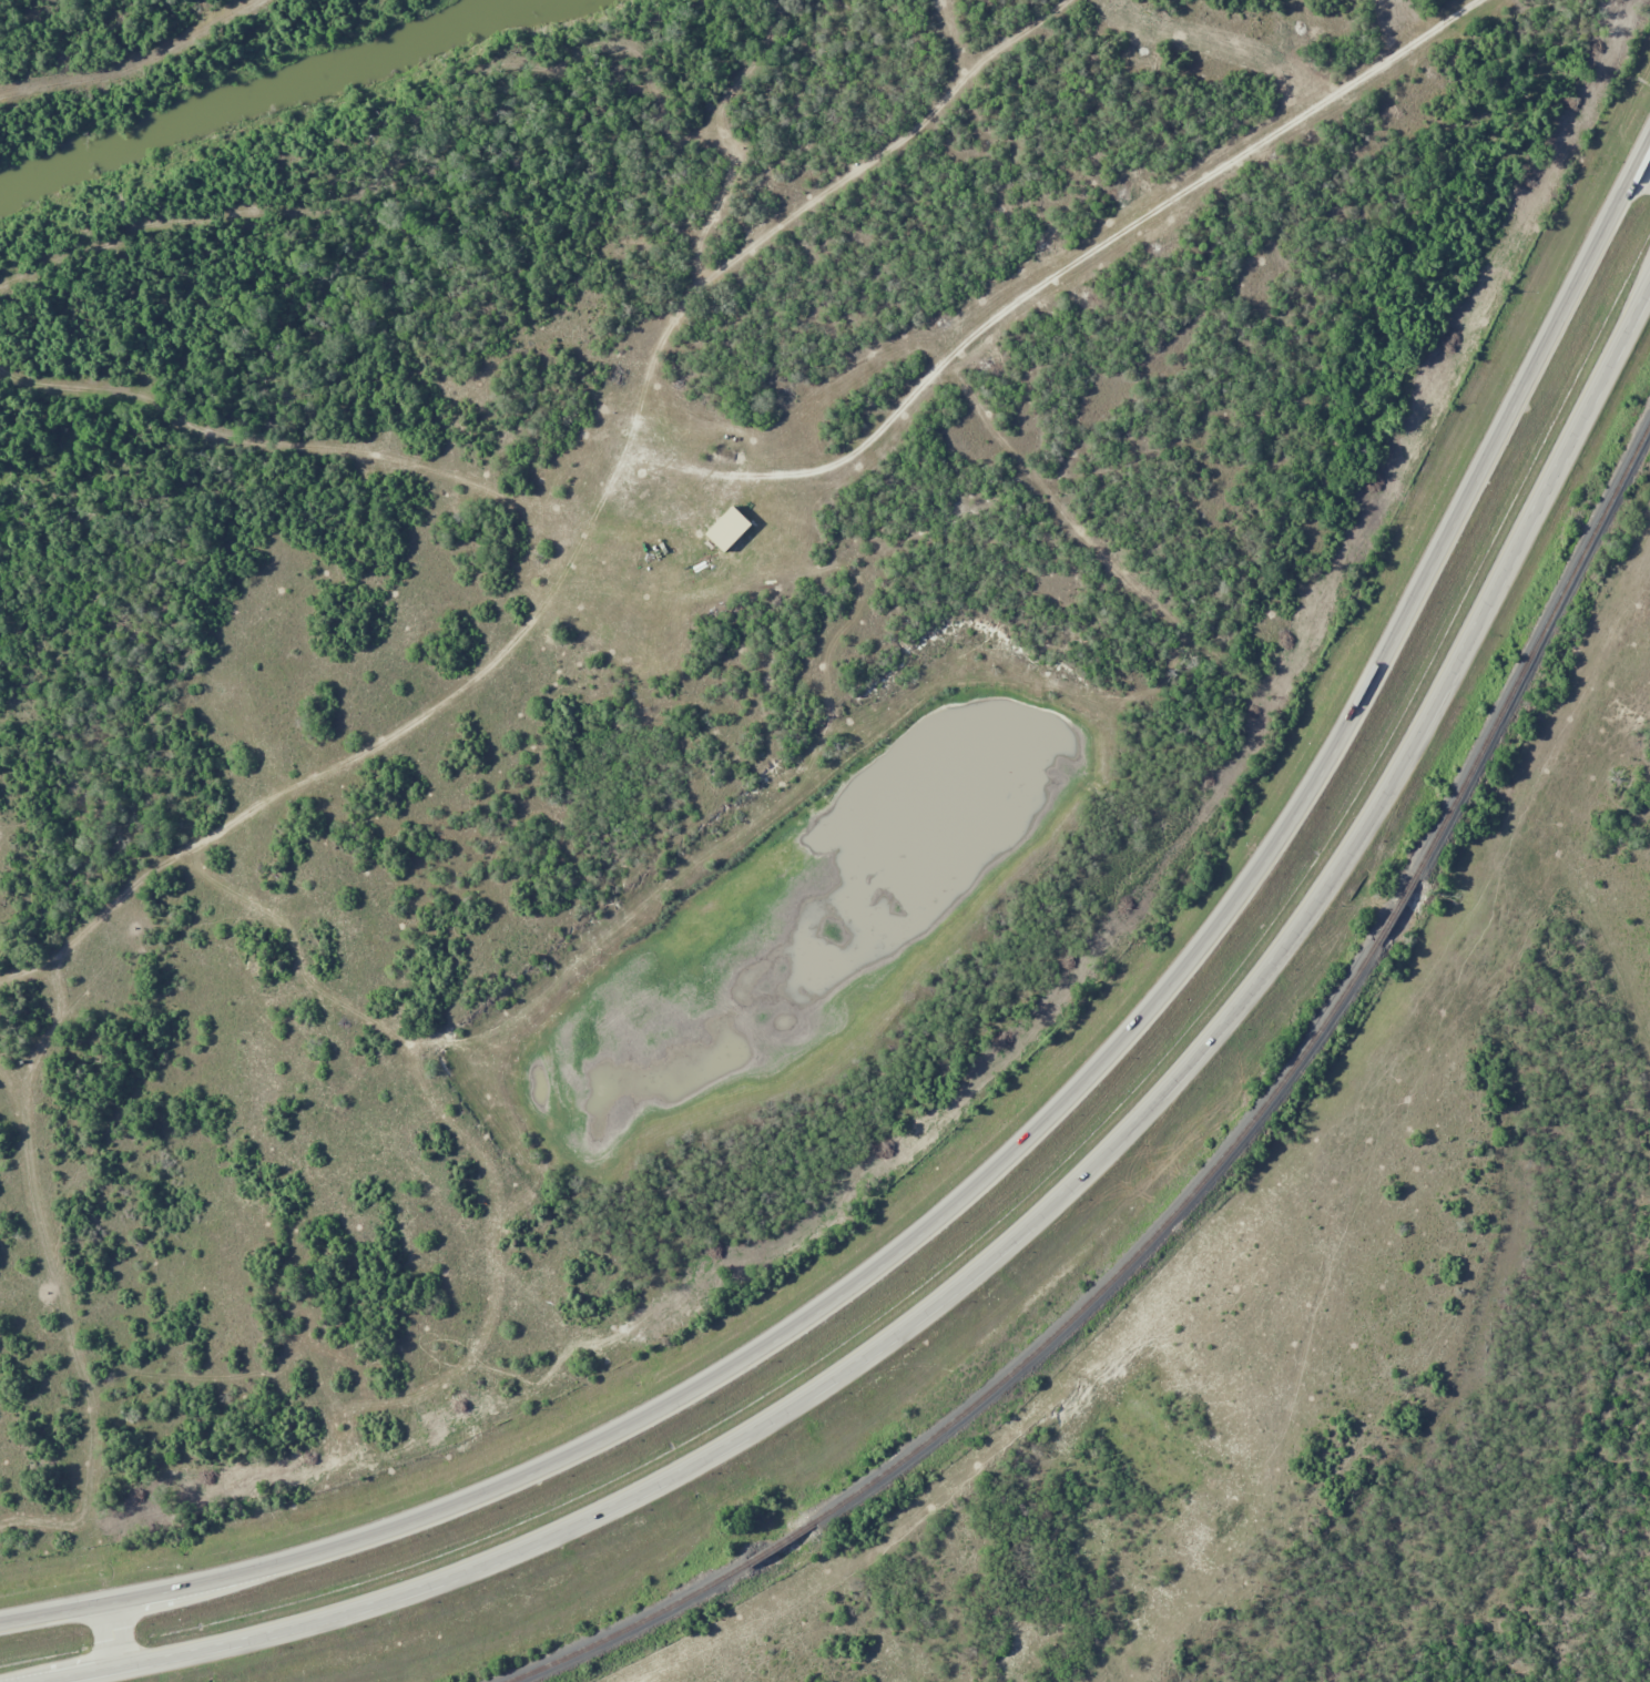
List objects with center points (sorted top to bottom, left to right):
river: (264, 94)
road: (1644, 164)
road: (1035, 1128)
railway: (1208, 1181)
road: (1056, 1215)
road: (123, 1639)

